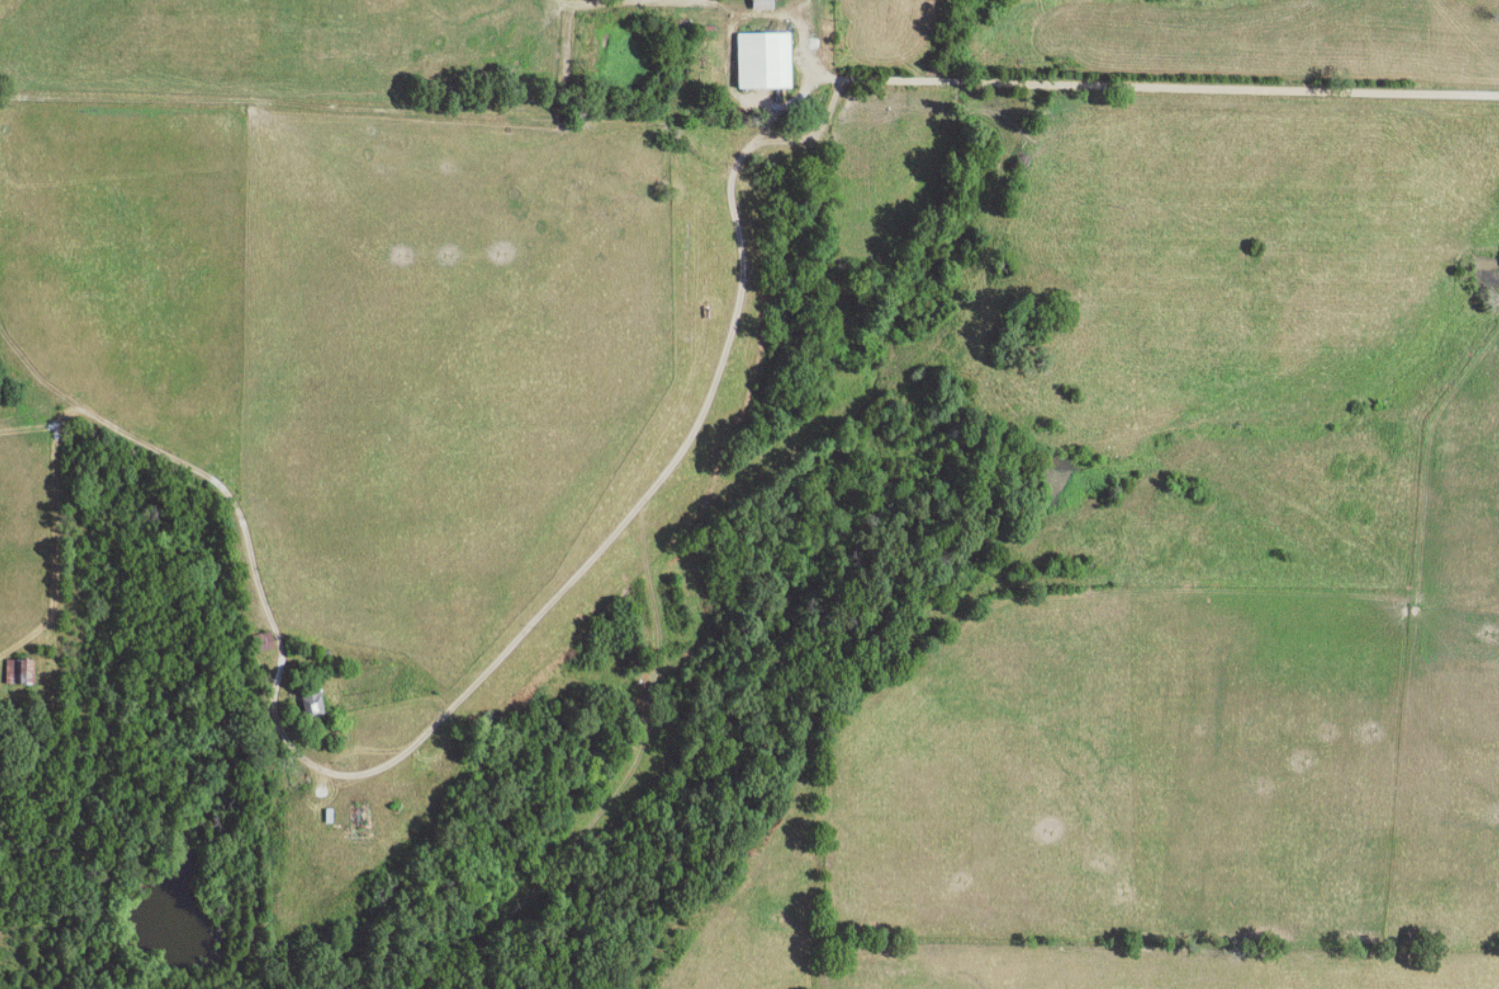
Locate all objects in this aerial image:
road: (704, 0)
building: (763, 4)
building: (764, 60)
road: (279, 97)
road: (739, 164)
road: (32, 641)
building: (313, 704)

